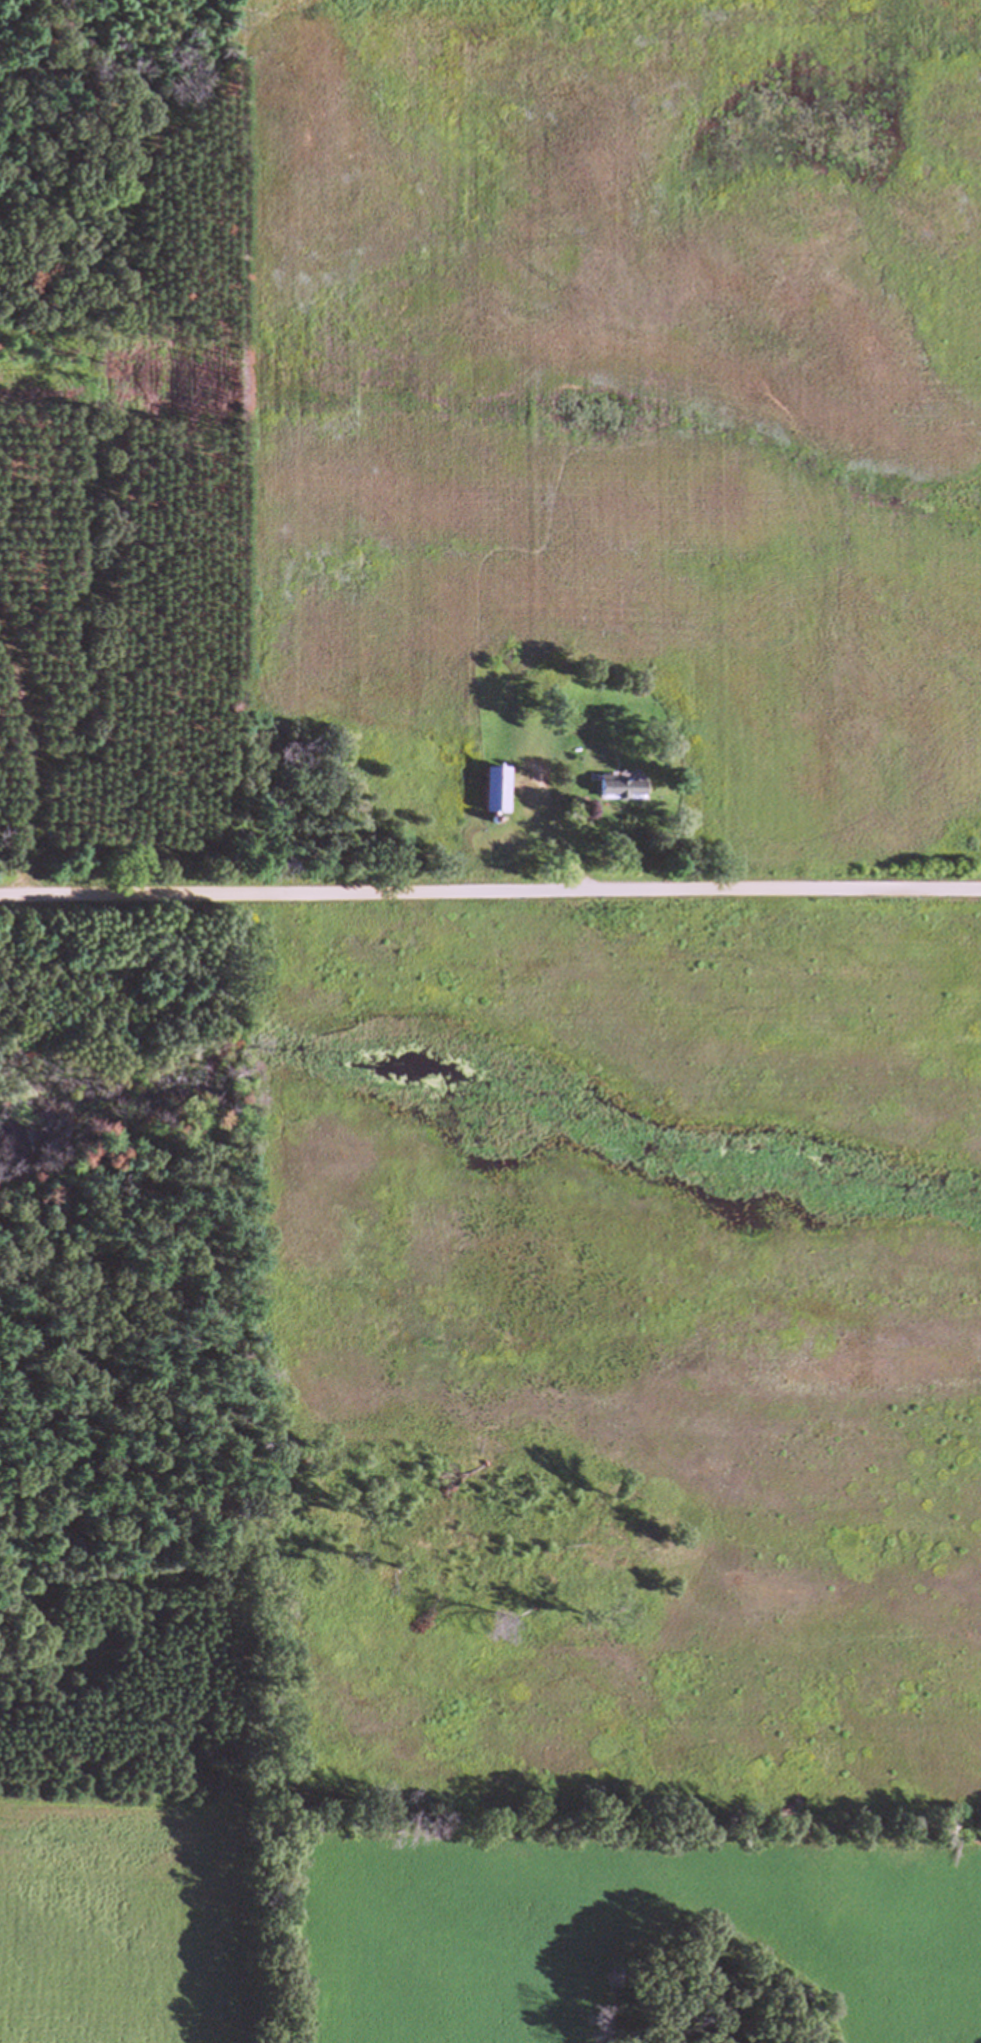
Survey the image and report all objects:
building: (614, 787)
building: (489, 789)
road: (490, 890)

